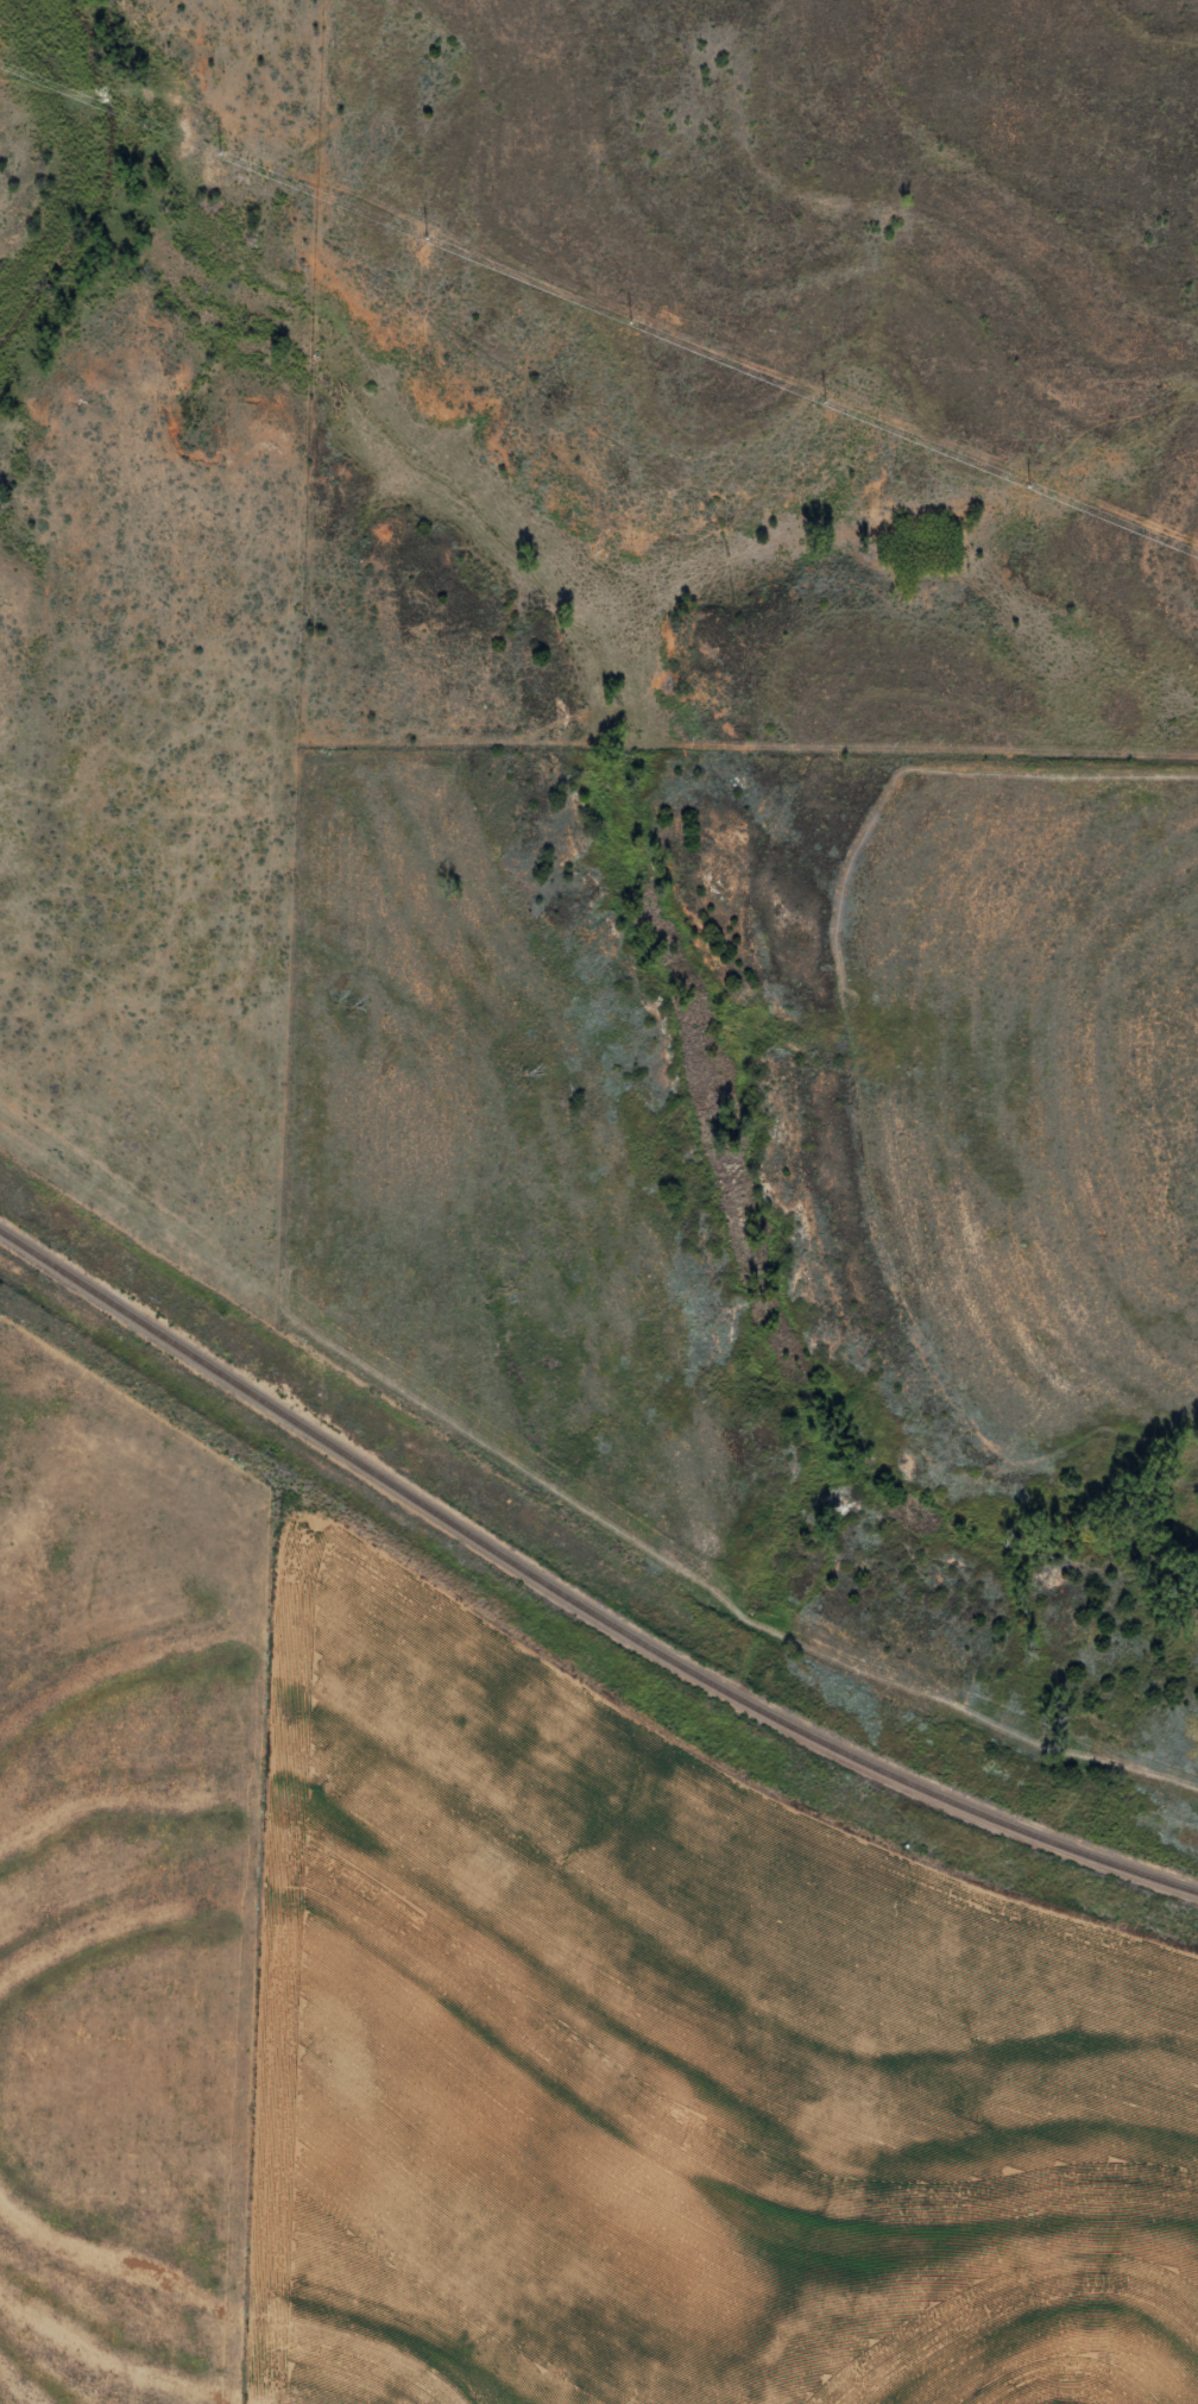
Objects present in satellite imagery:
railway: (575, 1617)

